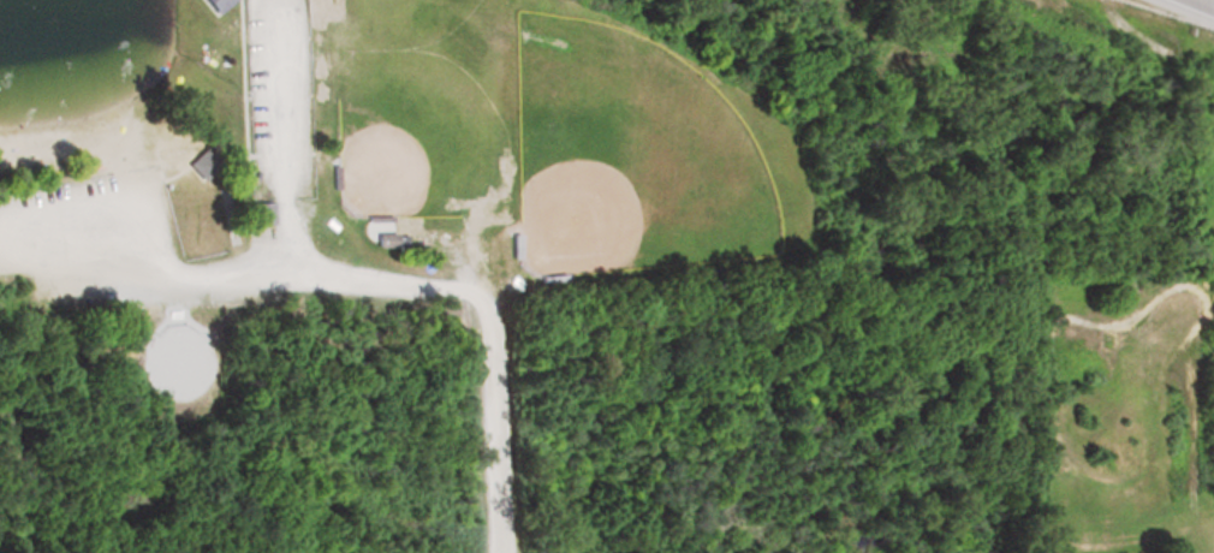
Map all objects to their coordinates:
road: (1203, 4)
building: (213, 5)
park: (391, 22)
park: (413, 137)
road: (280, 141)
park: (624, 155)
building: (257, 213)
road: (388, 280)

